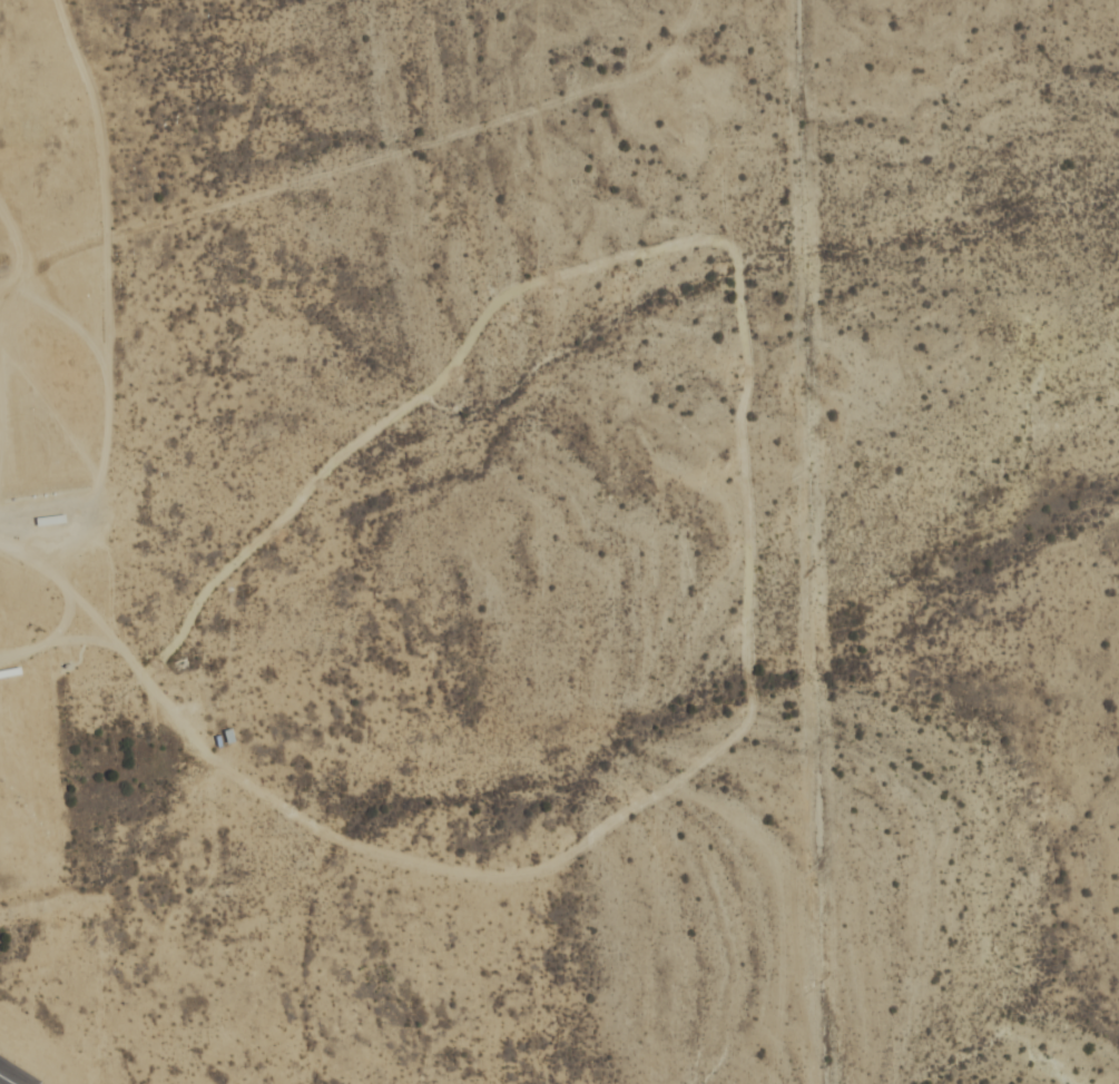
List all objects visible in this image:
park: (952, 253)

